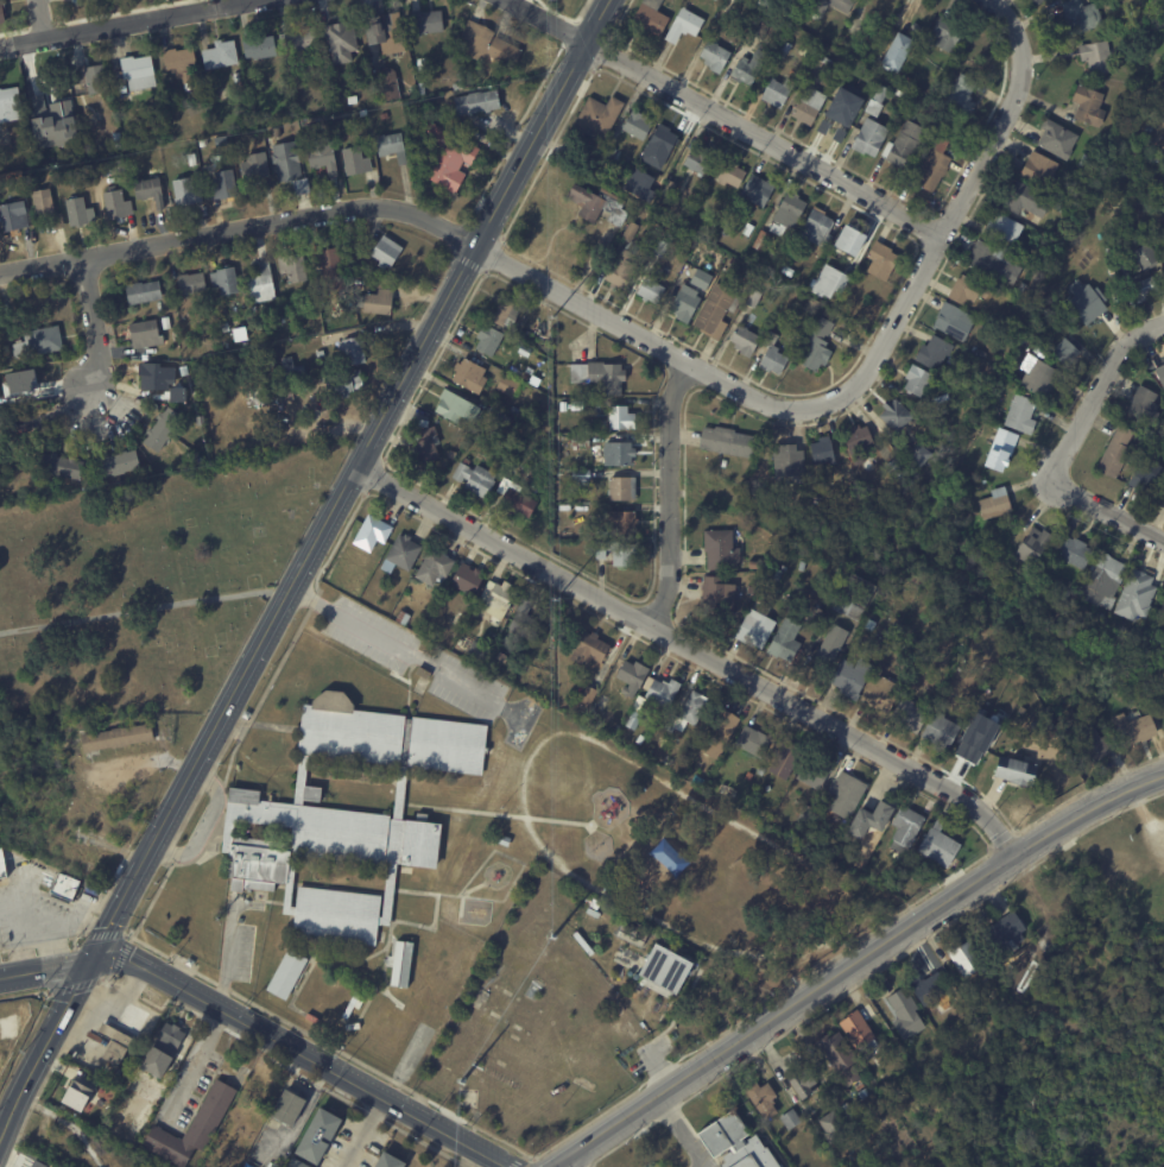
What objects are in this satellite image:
building: (1035, 1)
building: (841, 2)
building: (818, 10)
building: (4, 12)
building: (784, 13)
road: (1005, 14)
building: (1078, 15)
building: (646, 17)
road: (42, 18)
road: (148, 18)
building: (428, 23)
building: (682, 25)
building: (755, 31)
building: (387, 33)
building: (944, 34)
road: (21, 39)
building: (302, 40)
building: (343, 42)
building: (491, 45)
building: (262, 48)
building: (783, 49)
building: (897, 52)
building: (222, 56)
building: (713, 56)
building: (1095, 57)
building: (182, 64)
building: (815, 65)
building: (746, 68)
building: (309, 69)
building: (140, 72)
building: (238, 77)
building: (94, 78)
building: (391, 84)
building: (48, 88)
building: (423, 88)
building: (776, 92)
building: (960, 95)
building: (874, 101)
building: (479, 103)
building: (11, 106)
building: (1086, 106)
building: (806, 107)
building: (911, 111)
road: (716, 112)
building: (384, 115)
building: (597, 115)
building: (833, 116)
building: (208, 119)
building: (635, 126)
building: (277, 132)
building: (350, 132)
building: (868, 138)
building: (20, 139)
building: (1055, 139)
building: (903, 145)
building: (659, 146)
building: (393, 147)
building: (324, 154)
building: (606, 156)
building: (449, 157)
building: (194, 159)
building: (356, 160)
building: (697, 160)
building: (207, 162)
building: (290, 162)
building: (1082, 162)
building: (121, 166)
building: (929, 168)
building: (1037, 168)
building: (257, 169)
building: (730, 175)
building: (1159, 184)
building: (224, 187)
building: (649, 188)
building: (666, 189)
building: (755, 191)
building: (151, 193)
building: (698, 194)
building: (189, 195)
building: (1024, 201)
building: (119, 206)
building: (595, 206)
building: (49, 208)
building: (742, 209)
building: (81, 213)
building: (785, 215)
building: (14, 219)
building: (1156, 220)
road: (241, 228)
building: (1002, 228)
building: (726, 229)
building: (747, 229)
building: (816, 229)
building: (628, 232)
road: (944, 232)
building: (759, 241)
building: (659, 248)
building: (850, 250)
building: (387, 252)
building: (1033, 253)
building: (880, 260)
building: (732, 261)
building: (991, 264)
building: (697, 266)
building: (295, 267)
building: (330, 267)
building: (620, 270)
building: (786, 271)
building: (1139, 275)
building: (227, 282)
building: (828, 282)
building: (194, 284)
building: (264, 285)
building: (1019, 289)
building: (650, 290)
building: (964, 290)
building: (145, 294)
building: (752, 298)
building: (382, 302)
building: (684, 304)
building: (1087, 304)
building: (499, 311)
building: (715, 311)
power tower: (552, 313)
building: (949, 322)
road: (93, 323)
building: (167, 323)
building: (227, 328)
building: (147, 334)
building: (301, 335)
road: (644, 336)
building: (487, 340)
building: (744, 341)
building: (42, 343)
building: (816, 346)
building: (355, 352)
building: (274, 353)
building: (930, 353)
building: (321, 354)
building: (1063, 354)
building: (771, 357)
building: (273, 364)
building: (293, 368)
building: (525, 373)
building: (1159, 374)
building: (468, 376)
building: (599, 377)
building: (154, 378)
building: (1037, 378)
building: (913, 380)
building: (344, 383)
building: (506, 386)
building: (23, 387)
building: (171, 392)
building: (290, 392)
road: (1097, 392)
building: (576, 405)
building: (1141, 406)
building: (463, 410)
building: (513, 410)
building: (893, 414)
building: (1018, 415)
building: (619, 420)
building: (164, 429)
building: (2, 433)
building: (855, 439)
building: (578, 442)
building: (723, 442)
building: (424, 444)
building: (0, 448)
building: (821, 450)
building: (1000, 450)
building: (1113, 453)
building: (616, 454)
building: (916, 455)
building: (786, 461)
building: (721, 463)
building: (119, 465)
building: (63, 467)
building: (892, 469)
building: (577, 477)
building: (1146, 479)
building: (473, 480)
building: (0, 482)
building: (619, 490)
road: (670, 492)
building: (787, 494)
building: (1162, 498)
building: (514, 499)
building: (814, 500)
building: (994, 505)
road: (1106, 511)
building: (619, 525)
building: (371, 534)
building: (753, 543)
building: (1030, 547)
building: (717, 550)
building: (401, 553)
building: (1070, 553)
building: (615, 554)
road: (302, 566)
building: (751, 566)
building: (802, 567)
building: (431, 568)
building: (774, 574)
building: (467, 580)
park: (146, 582)
building: (1099, 582)
building: (716, 598)
building: (850, 598)
building: (1132, 598)
building: (496, 599)
building: (1162, 607)
building: (812, 617)
building: (399, 619)
building: (1097, 622)
building: (523, 624)
building: (867, 625)
building: (752, 631)
power tower: (553, 632)
road: (397, 641)
building: (782, 642)
building: (829, 645)
road: (696, 648)
building: (588, 650)
building: (474, 651)
parking lot: (419, 654)
building: (501, 658)
building: (900, 663)
building: (422, 673)
building: (631, 674)
building: (850, 680)
building: (993, 682)
building: (662, 692)
building: (881, 694)
building: (587, 695)
building: (602, 702)
building: (685, 712)
building: (248, 714)
building: (905, 717)
building: (631, 721)
building: (1132, 731)
building: (937, 732)
building: (715, 733)
building: (387, 736)
building: (120, 739)
building: (638, 740)
building: (970, 740)
building: (751, 743)
building: (1094, 746)
building: (782, 759)
building: (759, 771)
building: (1013, 772)
building: (811, 775)
building: (311, 793)
building: (843, 796)
road: (209, 818)
building: (868, 821)
building: (903, 831)
building: (320, 838)
building: (506, 840)
building: (937, 846)
building: (4, 866)
building: (902, 879)
building: (63, 885)
power tower: (556, 903)
building: (335, 914)
road: (51, 922)
building: (1002, 933)
road: (20, 938)
building: (631, 938)
road: (229, 941)
road: (52, 945)
parking lot: (247, 945)
building: (1031, 951)
building: (962, 957)
traffic signals: (90, 961)
road: (855, 965)
road: (44, 969)
building: (665, 969)
building: (290, 974)
building: (928, 988)
building: (358, 1004)
building: (904, 1014)
building: (354, 1026)
building: (855, 1028)
building: (929, 1040)
building: (175, 1041)
building: (116, 1043)
building: (880, 1045)
road: (303, 1052)
building: (837, 1058)
building: (156, 1061)
road: (194, 1064)
power tower: (460, 1081)
building: (799, 1085)
building: (78, 1093)
building: (860, 1093)
park: (1056, 1095)
building: (761, 1099)
building: (292, 1108)
building: (790, 1119)
building: (830, 1127)
building: (195, 1128)
building: (124, 1130)
road: (681, 1130)
road: (367, 1133)
building: (322, 1136)
building: (735, 1143)
building: (392, 1161)
building: (31, 1162)
building: (301, 1163)

